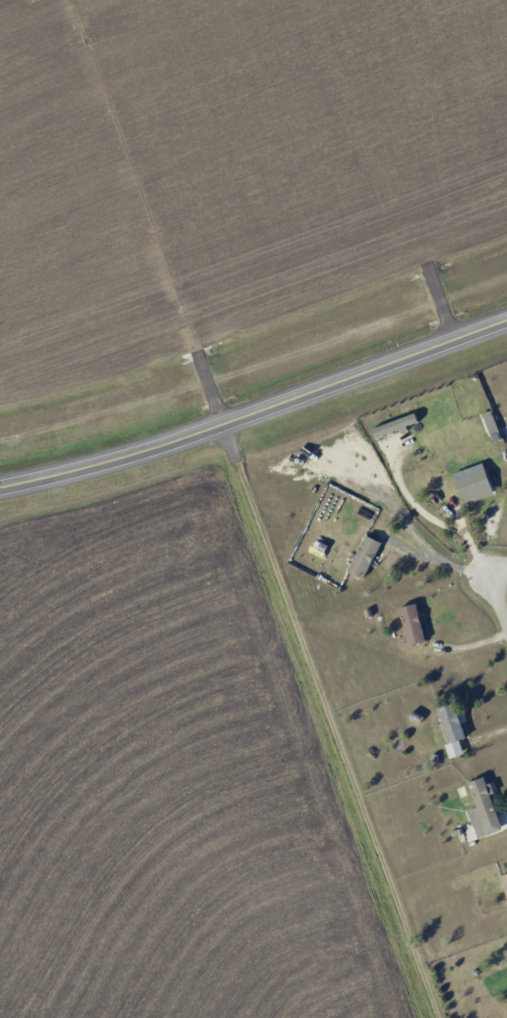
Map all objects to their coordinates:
road: (256, 410)
building: (489, 422)
building: (474, 487)
road: (432, 516)
building: (504, 529)
building: (363, 556)
road: (440, 563)
road: (498, 584)
building: (411, 624)
building: (451, 729)
building: (482, 809)
building: (504, 883)

